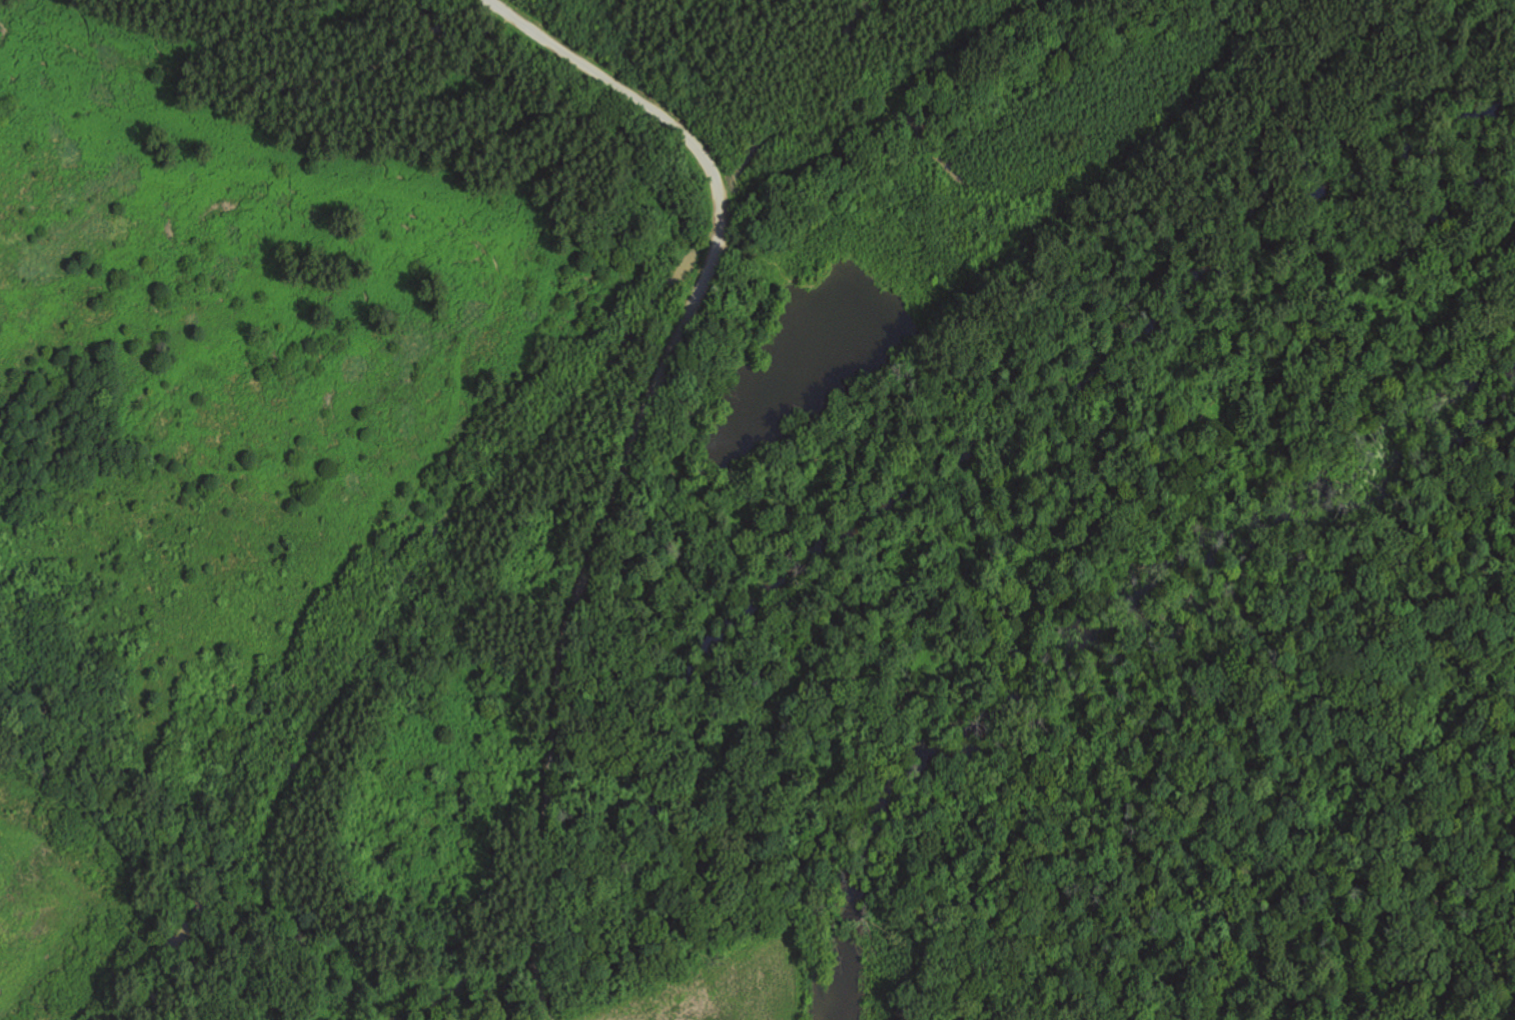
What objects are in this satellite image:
road: (638, 449)

